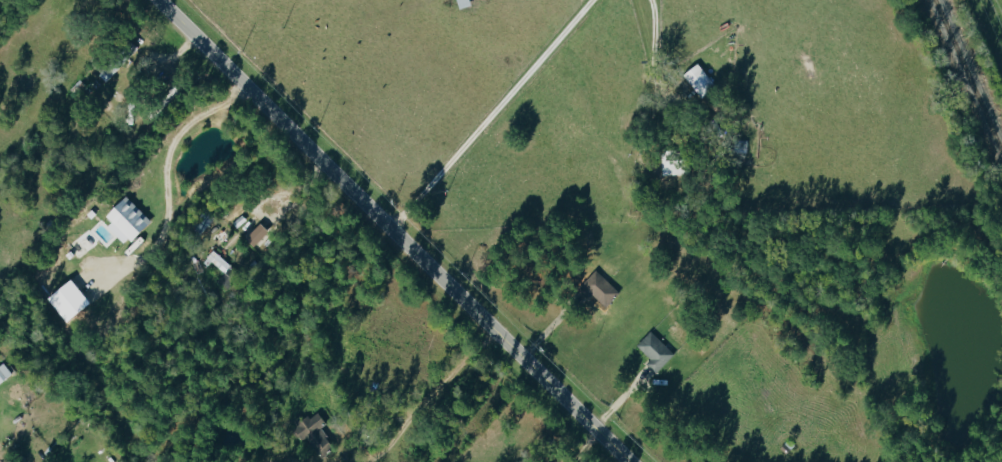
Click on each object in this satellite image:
road: (655, 56)
railway: (967, 76)
building: (699, 80)
road: (490, 114)
building: (740, 146)
building: (672, 162)
road: (165, 182)
building: (128, 218)
road: (391, 229)
building: (85, 240)
building: (222, 269)
building: (598, 290)
road: (554, 333)
building: (655, 351)
building: (4, 372)
road: (427, 395)
building: (314, 434)
road: (582, 446)

